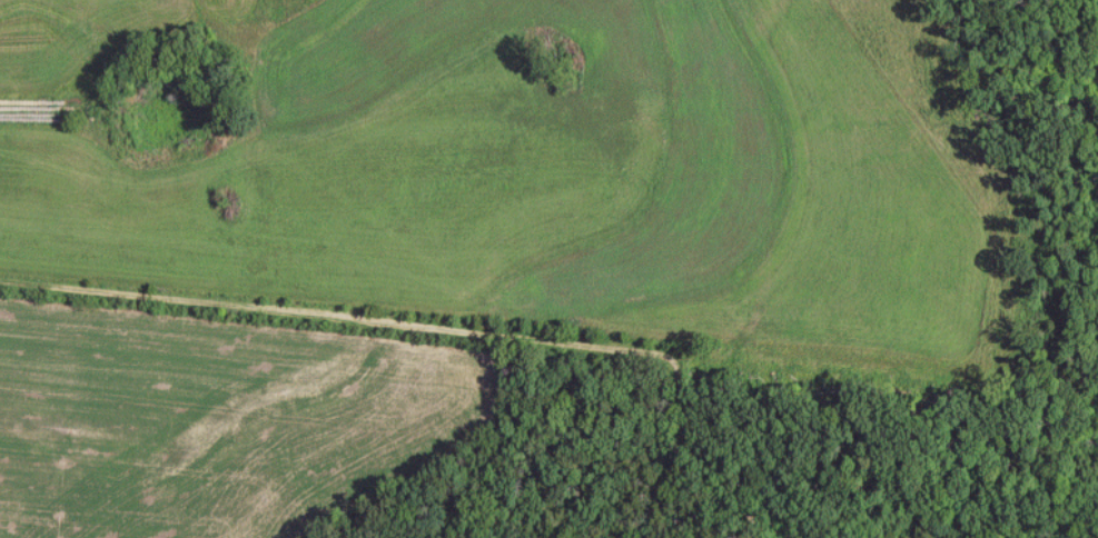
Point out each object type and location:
road: (577, 366)
road: (721, 480)
road: (1084, 530)

